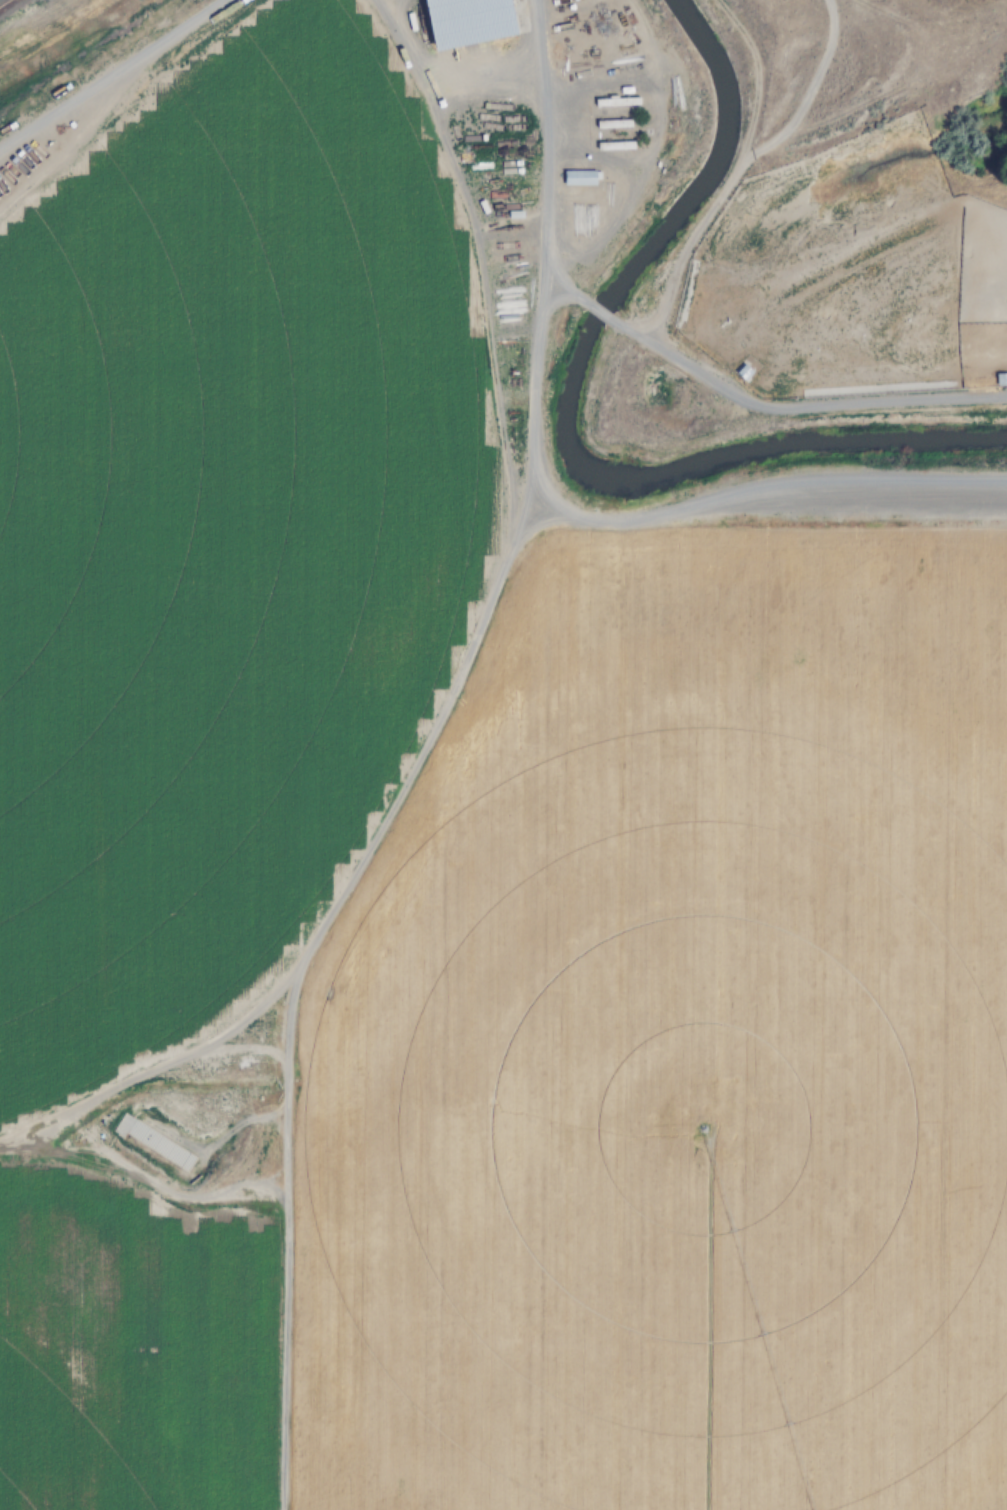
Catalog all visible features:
railway: (4, 2)
railway: (5, 4)
building: (470, 21)
building: (617, 101)
building: (615, 124)
building: (580, 177)
building: (1002, 380)

